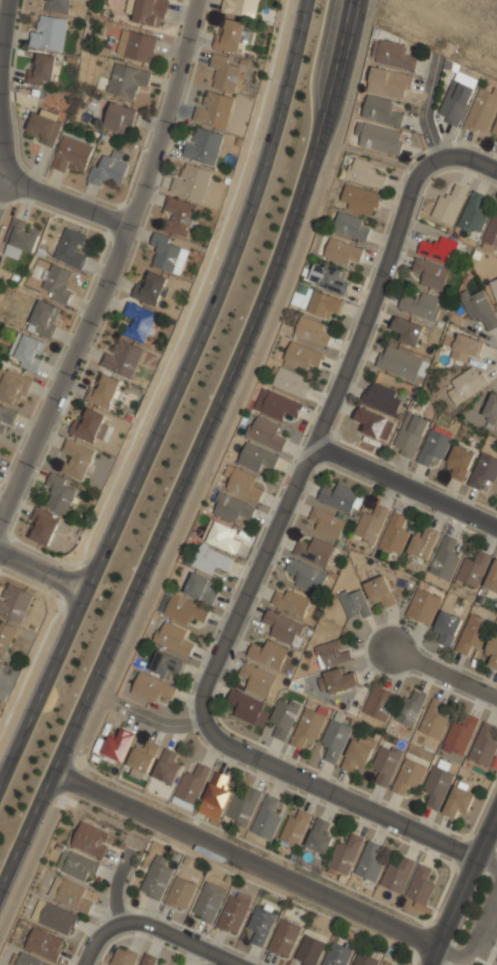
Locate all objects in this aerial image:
building: (58, 6)
building: (239, 7)
building: (149, 12)
road: (3, 24)
building: (49, 33)
building: (229, 36)
building: (136, 46)
building: (394, 55)
building: (43, 71)
building: (225, 72)
building: (126, 80)
building: (390, 81)
building: (455, 102)
building: (381, 109)
building: (213, 110)
building: (482, 110)
building: (120, 117)
building: (43, 127)
building: (494, 128)
building: (379, 137)
building: (202, 146)
building: (72, 155)
road: (461, 157)
building: (108, 168)
building: (365, 172)
building: (191, 182)
road: (22, 185)
road: (1, 193)
building: (359, 199)
building: (450, 204)
building: (474, 212)
building: (181, 215)
building: (352, 225)
building: (492, 230)
building: (20, 237)
building: (70, 247)
building: (440, 248)
building: (343, 251)
building: (167, 252)
road: (111, 263)
building: (431, 273)
building: (329, 277)
building: (57, 282)
building: (149, 288)
building: (494, 288)
building: (321, 302)
building: (420, 305)
building: (479, 308)
building: (42, 319)
building: (139, 322)
building: (314, 330)
building: (408, 330)
building: (464, 347)
building: (27, 350)
building: (303, 355)
building: (122, 358)
building: (403, 363)
building: (292, 381)
building: (467, 385)
building: (12, 386)
building: (103, 390)
road: (327, 396)
road: (172, 398)
building: (382, 398)
building: (277, 403)
building: (491, 408)
building: (5, 420)
building: (373, 424)
building: (89, 425)
building: (267, 432)
building: (409, 435)
building: (433, 448)
road: (195, 451)
building: (257, 457)
building: (76, 458)
building: (460, 462)
road: (205, 473)
building: (483, 473)
building: (243, 482)
road: (403, 486)
building: (60, 492)
building: (338, 498)
building: (231, 506)
building: (326, 522)
building: (370, 524)
building: (43, 525)
building: (395, 532)
building: (223, 536)
building: (422, 544)
building: (315, 551)
building: (445, 557)
building: (210, 559)
building: (473, 570)
road: (43, 572)
building: (307, 576)
building: (492, 579)
building: (199, 588)
building: (381, 590)
building: (13, 602)
building: (290, 602)
building: (355, 603)
building: (423, 606)
building: (185, 610)
building: (282, 627)
building: (447, 628)
building: (472, 634)
building: (5, 636)
road: (43, 636)
building: (173, 637)
building: (493, 651)
building: (332, 654)
building: (268, 655)
building: (1, 663)
building: (166, 663)
road: (444, 673)
building: (257, 680)
building: (337, 680)
building: (152, 686)
building: (379, 703)
building: (245, 707)
building: (410, 708)
building: (283, 718)
road: (155, 720)
building: (434, 720)
building: (307, 728)
building: (460, 734)
building: (335, 740)
building: (117, 745)
building: (484, 746)
road: (243, 750)
building: (357, 753)
building: (142, 757)
building: (385, 765)
building: (166, 767)
building: (408, 777)
building: (192, 784)
building: (437, 787)
building: (215, 797)
building: (458, 802)
building: (242, 808)
road: (384, 816)
building: (266, 818)
building: (295, 828)
building: (319, 838)
building: (91, 839)
road: (490, 854)
building: (345, 855)
road: (243, 861)
building: (370, 861)
building: (77, 865)
building: (397, 875)
building: (156, 877)
road: (466, 881)
road: (117, 883)
building: (421, 885)
building: (69, 893)
building: (180, 893)
building: (208, 902)
building: (232, 915)
building: (55, 917)
park: (478, 924)
building: (260, 925)
road: (473, 934)
road: (180, 938)
road: (100, 939)
building: (283, 939)
building: (45, 944)
building: (308, 951)
building: (337, 955)
building: (123, 957)
road: (433, 957)
building: (30, 960)
building: (364, 960)
building: (148, 961)
building: (387, 963)

